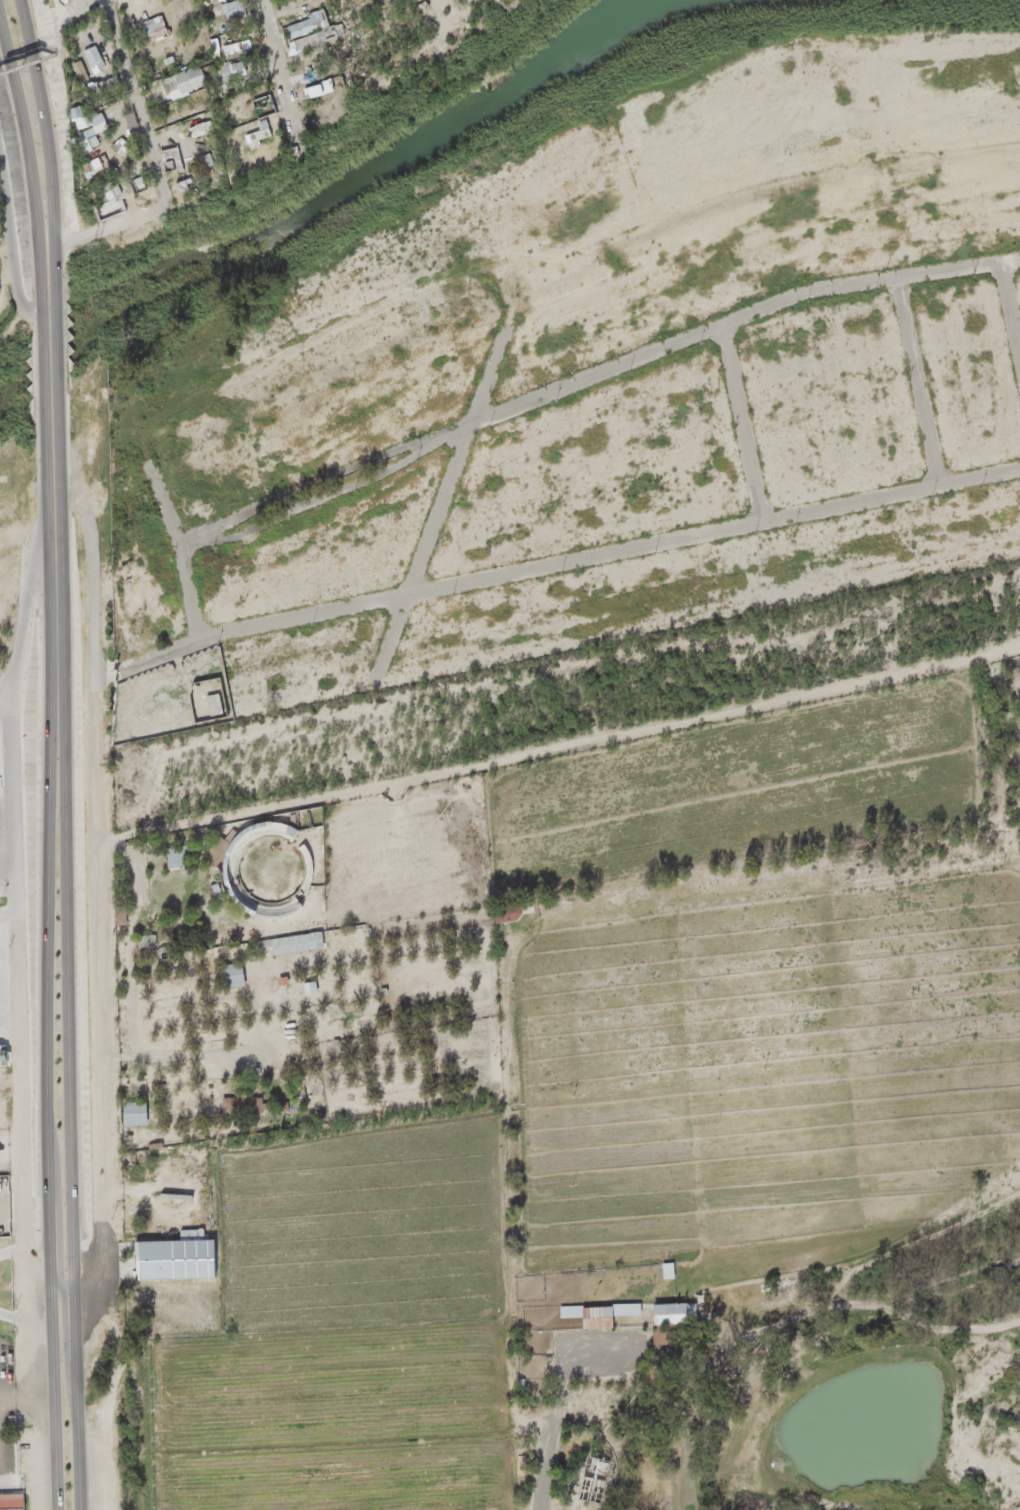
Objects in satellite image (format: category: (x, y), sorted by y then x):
river: (325, 199)

